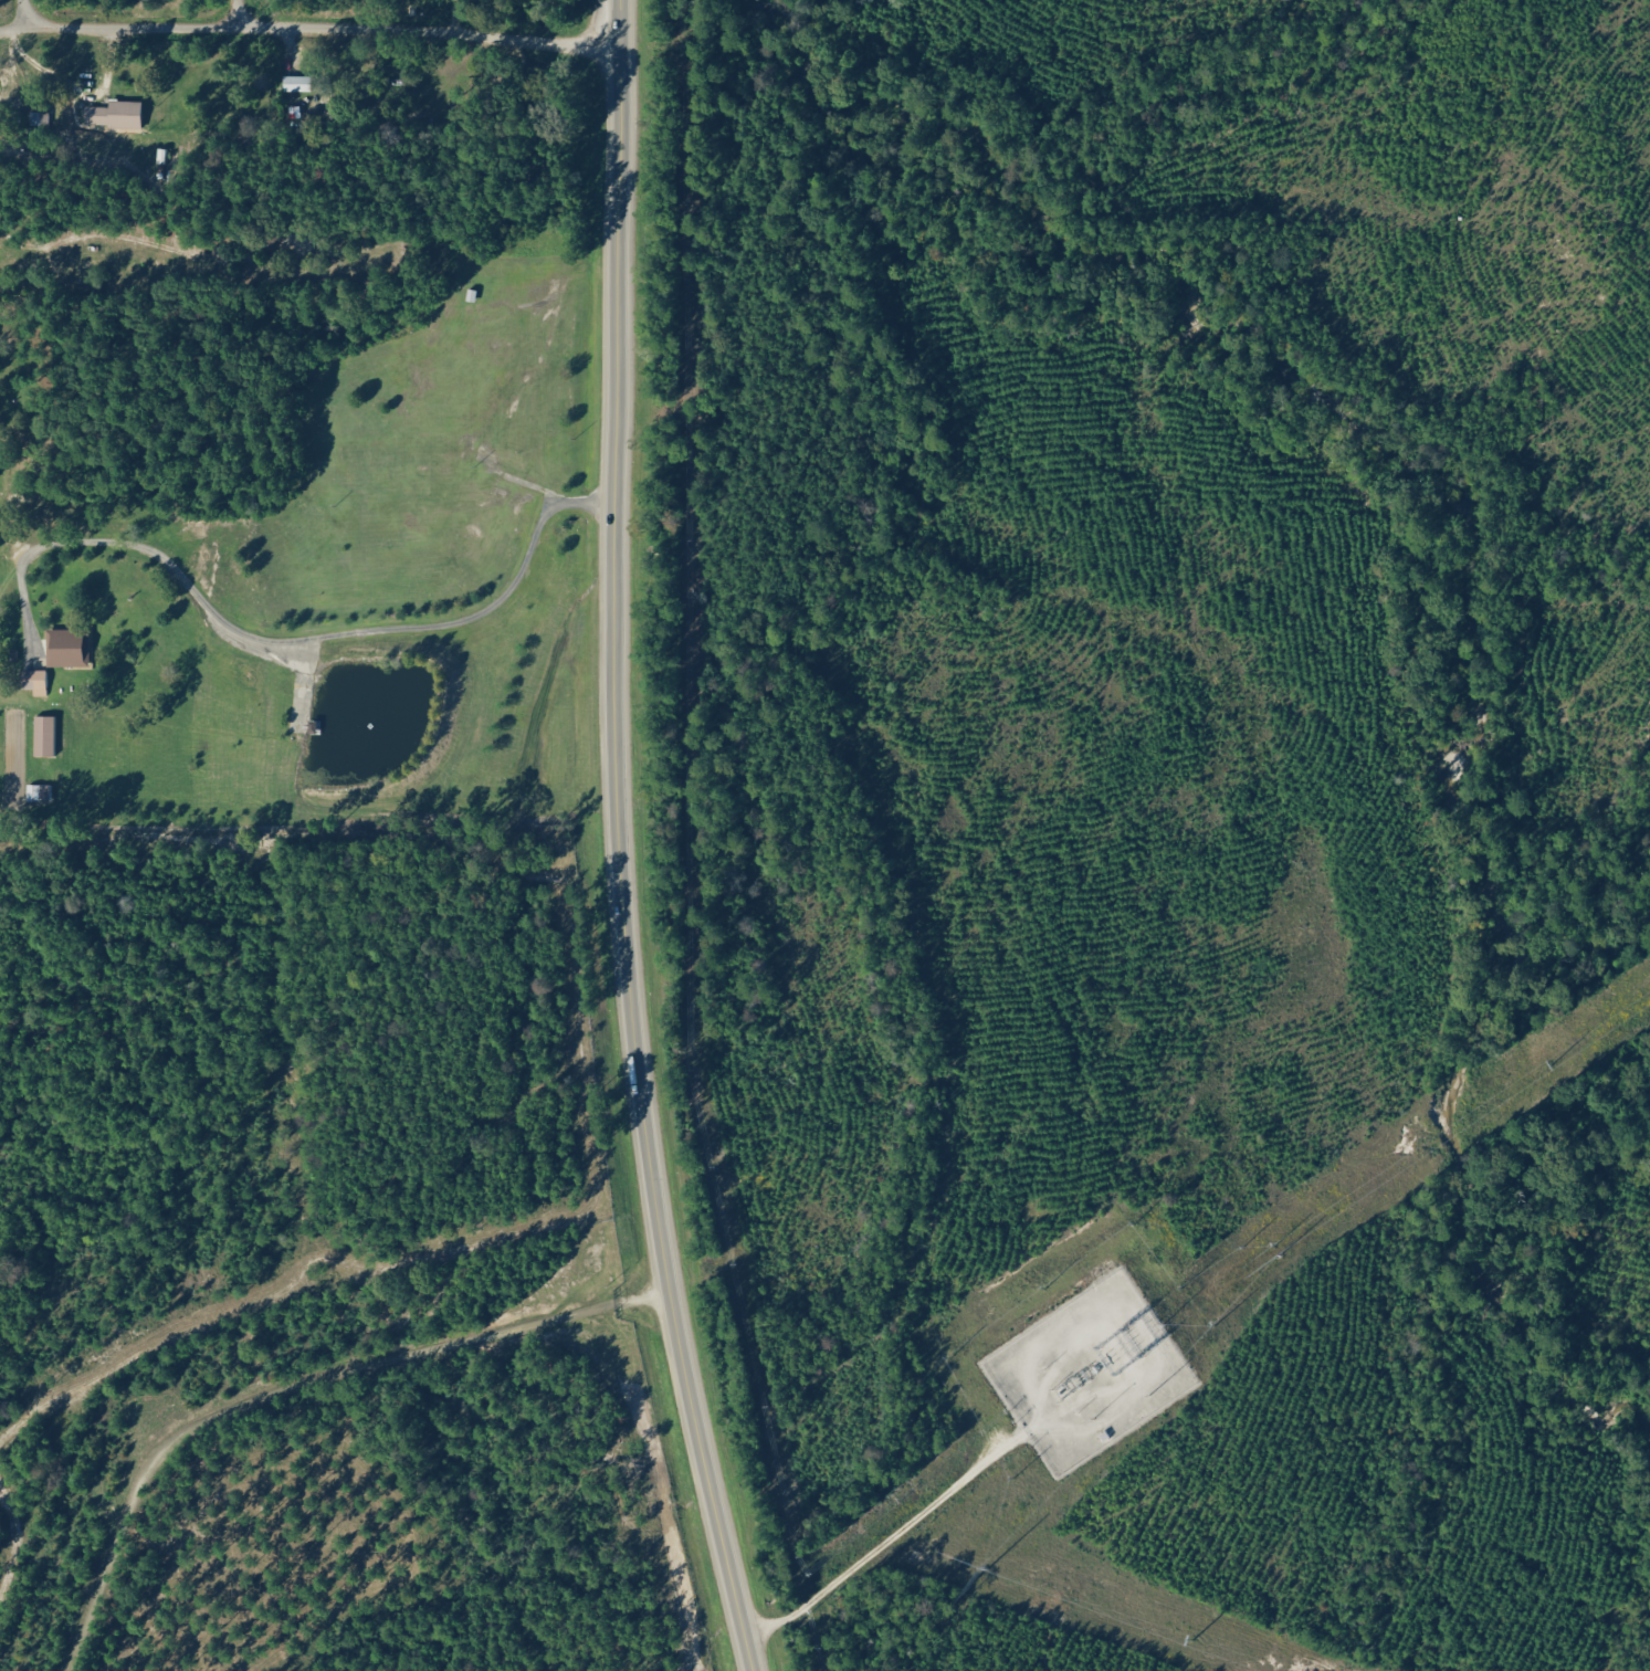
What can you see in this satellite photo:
road: (25, 13)
road: (237, 13)
road: (309, 29)
building: (299, 84)
building: (117, 116)
road: (278, 642)
building: (38, 682)
building: (48, 737)
building: (42, 794)
road: (616, 841)
power substation: (1085, 1374)
road: (292, 1386)

